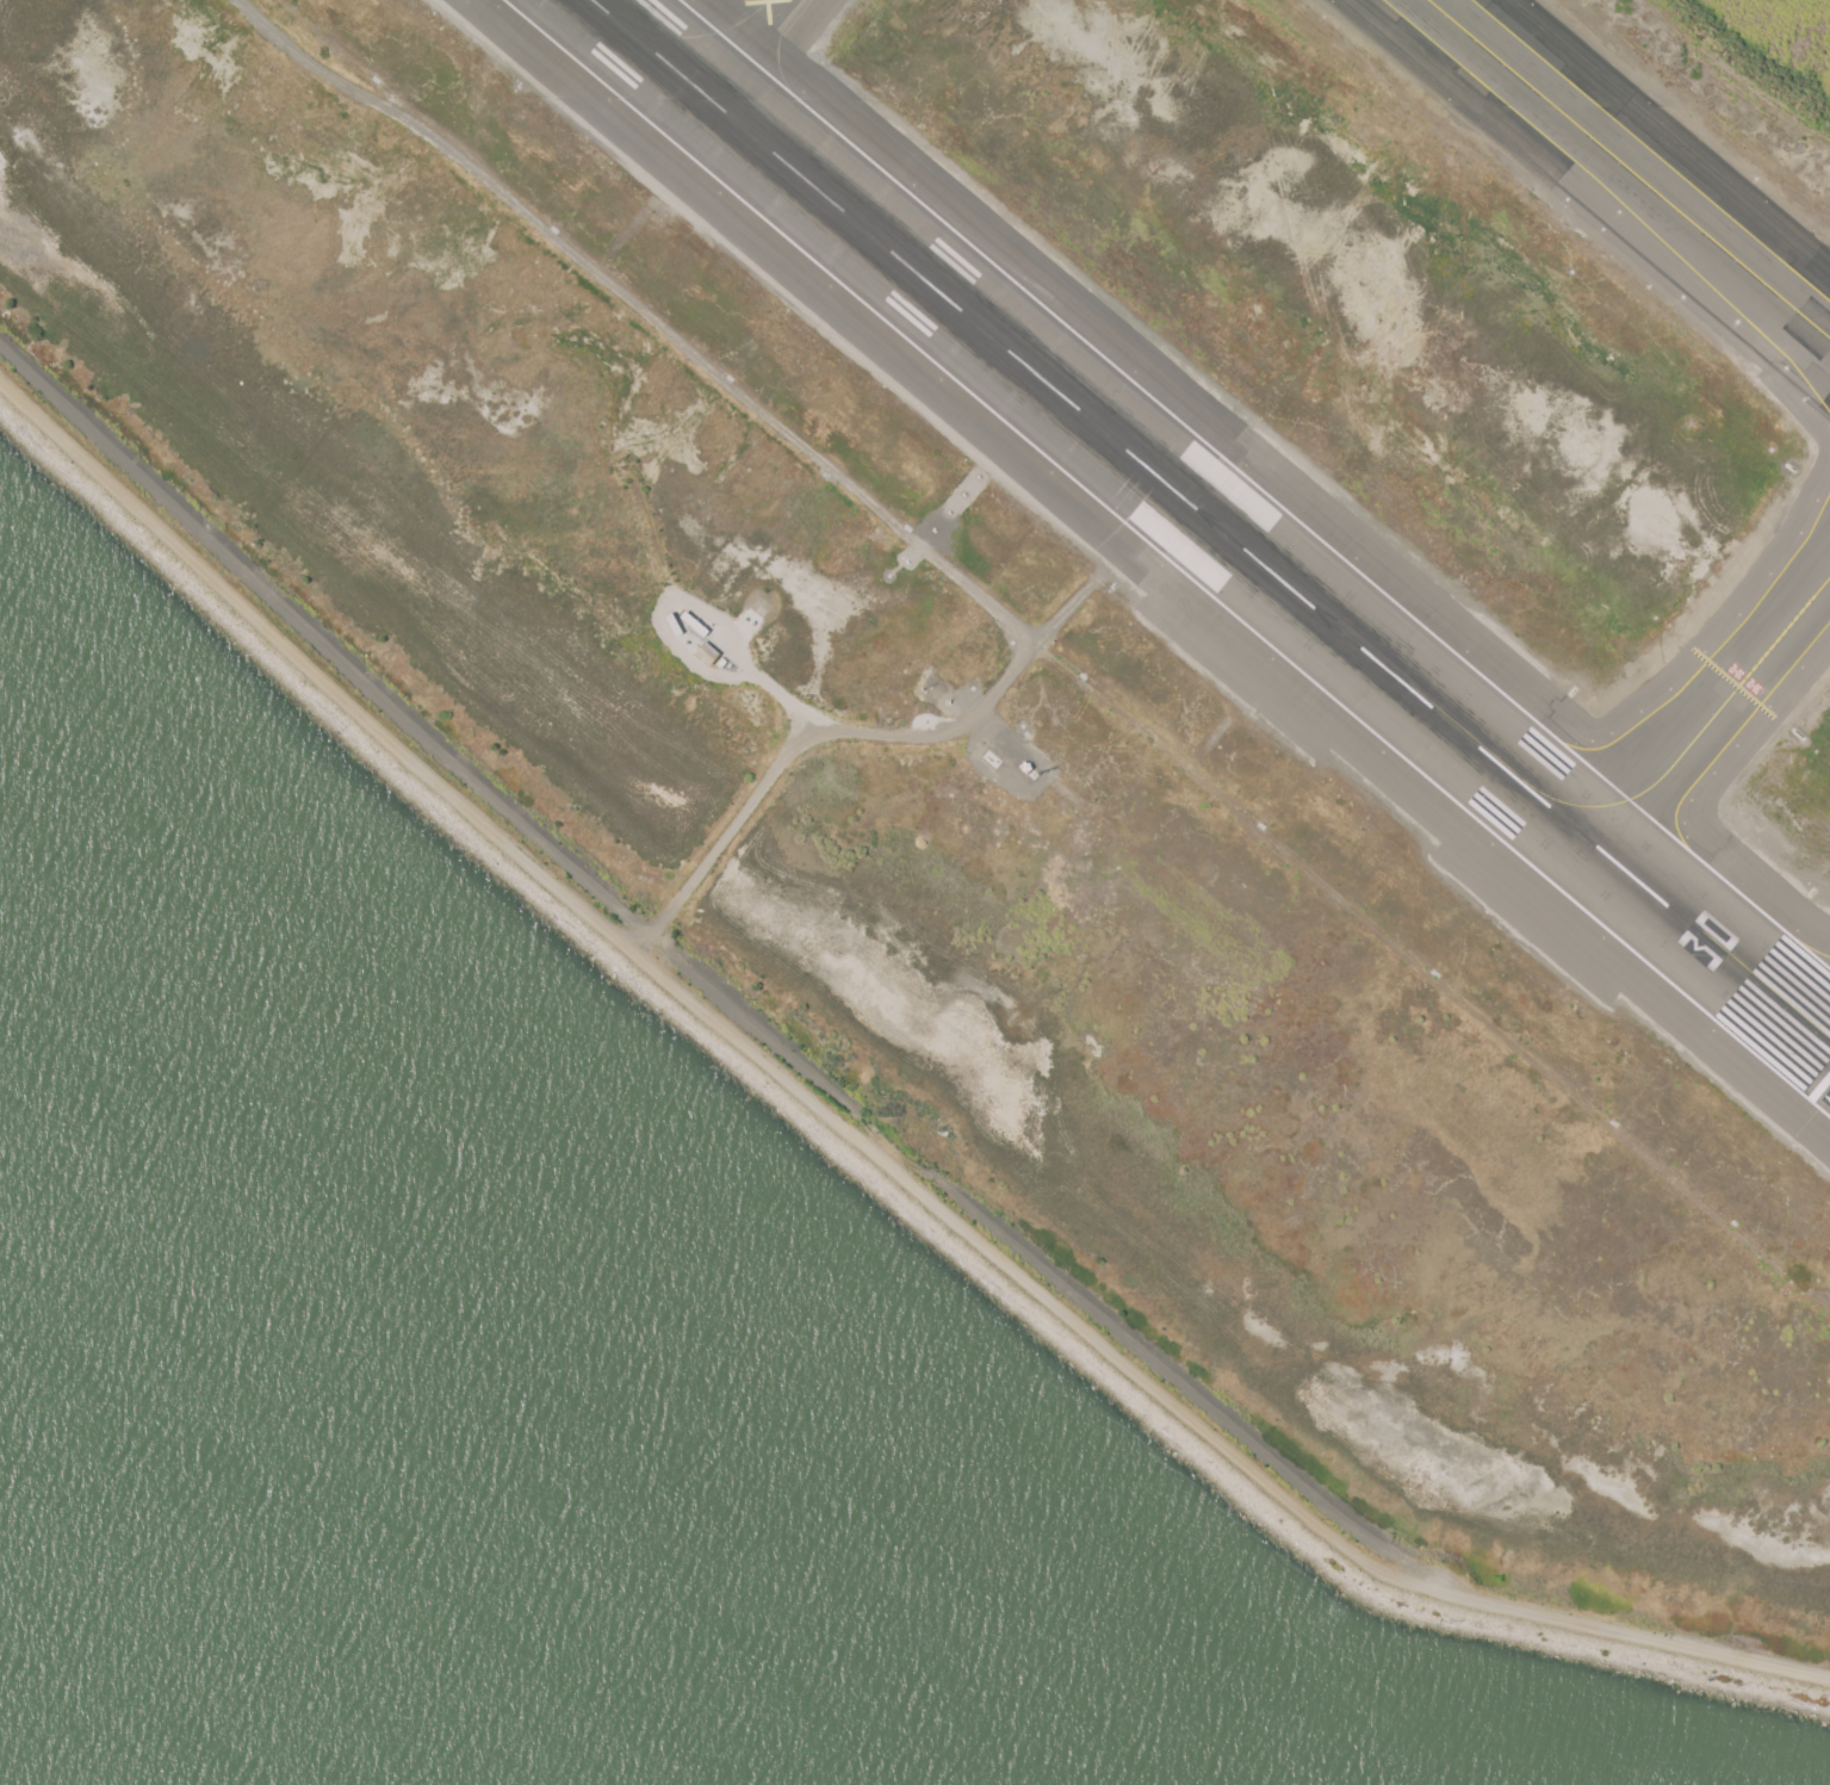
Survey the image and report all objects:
airport taxiway: (1629, 169)
airport runway: (1210, 521)
airport: (1099, 663)
airport taxiway: (1701, 731)
airport taxiway: (1825, 1037)

